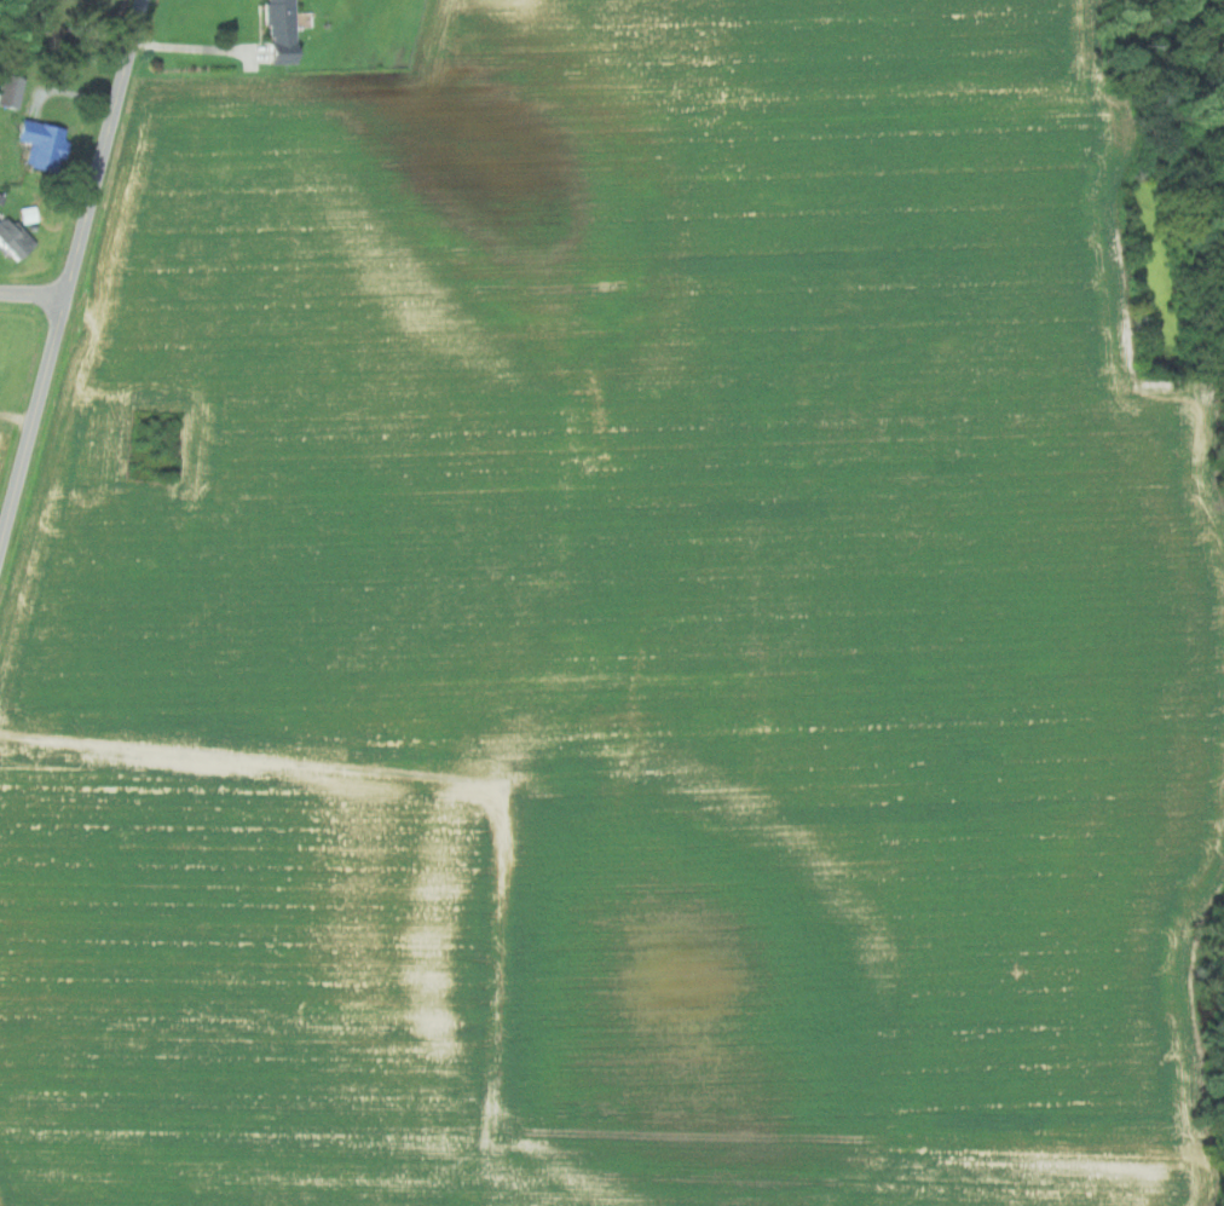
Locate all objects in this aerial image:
building: (278, 31)
road: (197, 47)
building: (8, 90)
building: (39, 143)
building: (12, 237)
road: (69, 272)
road: (30, 300)

